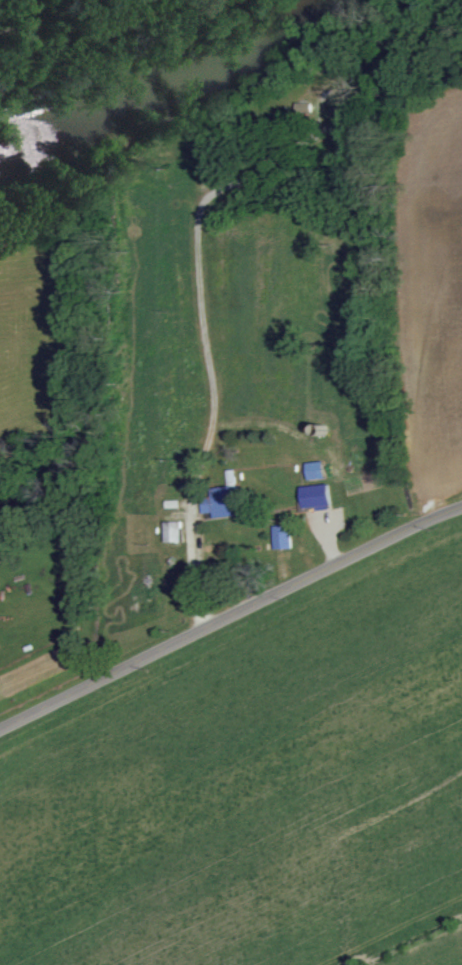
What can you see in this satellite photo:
river: (175, 51)
road: (204, 340)
building: (315, 469)
building: (315, 495)
building: (223, 501)
building: (172, 531)
building: (282, 536)
road: (230, 616)

